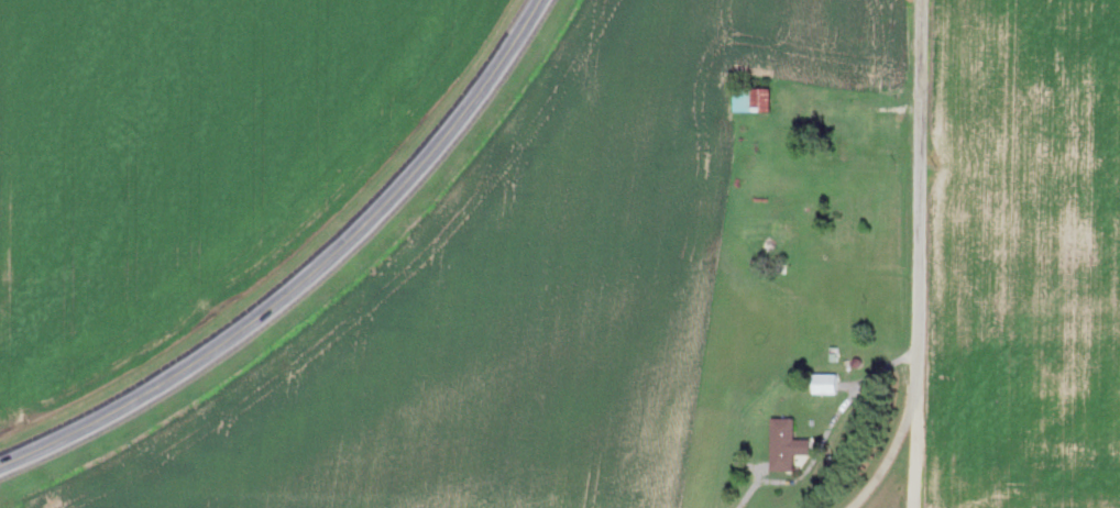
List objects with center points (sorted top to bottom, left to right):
road: (922, 253)
road: (306, 276)
building: (784, 435)
road: (893, 460)

